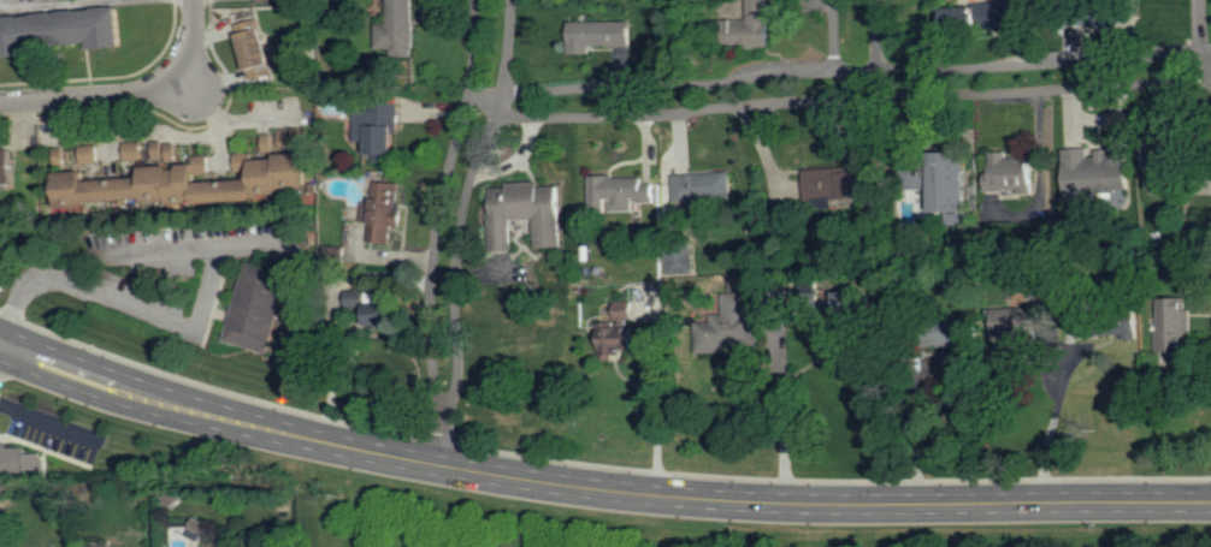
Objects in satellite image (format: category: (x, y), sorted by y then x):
road: (76, 4)
building: (983, 16)
road: (1198, 25)
building: (751, 26)
building: (400, 29)
building: (63, 31)
building: (602, 35)
road: (508, 47)
road: (477, 48)
building: (258, 49)
road: (1205, 60)
road: (838, 70)
road: (184, 79)
road: (861, 90)
road: (128, 94)
road: (837, 100)
road: (142, 124)
building: (380, 131)
building: (293, 136)
building: (135, 151)
building: (91, 154)
building: (60, 156)
building: (10, 167)
building: (1176, 170)
building: (1012, 173)
building: (1098, 176)
building: (190, 183)
building: (845, 183)
building: (951, 186)
building: (703, 189)
building: (624, 192)
building: (384, 212)
building: (526, 214)
road: (456, 248)
road: (122, 250)
road: (432, 251)
building: (683, 263)
building: (359, 298)
building: (846, 304)
building: (258, 307)
building: (386, 314)
road: (167, 320)
building: (1030, 320)
building: (733, 326)
building: (1107, 327)
building: (962, 331)
building: (621, 332)
building: (1175, 337)
road: (0, 346)
road: (656, 398)
road: (781, 400)
road: (51, 421)
road: (1052, 426)
road: (914, 429)
road: (443, 440)
building: (18, 457)
road: (595, 464)
road: (595, 495)
building: (202, 525)
building: (100, 546)

